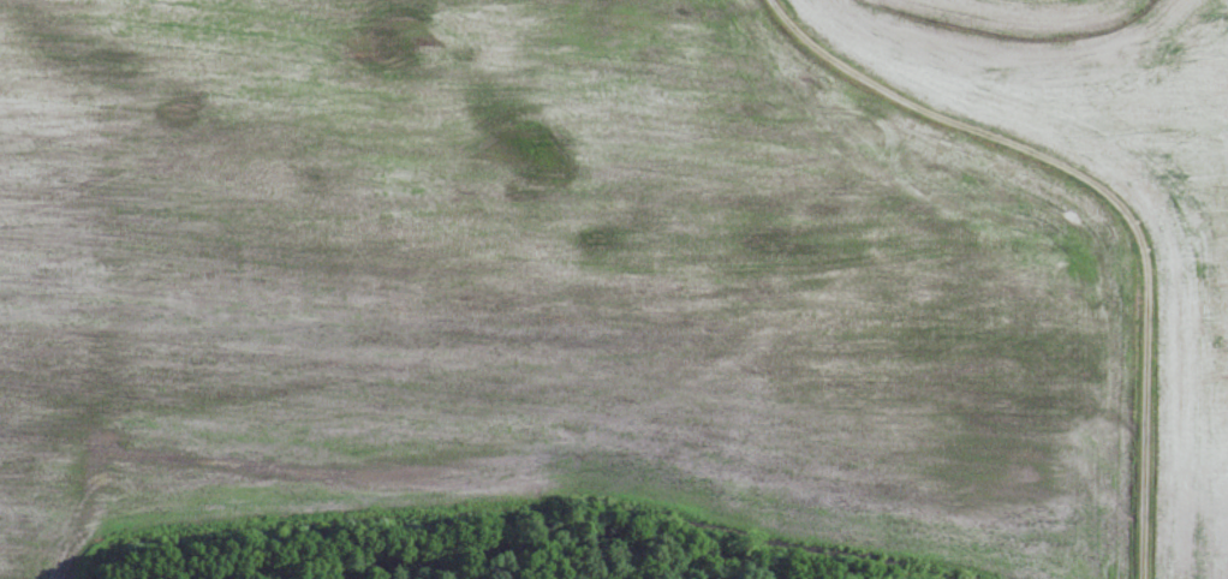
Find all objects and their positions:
road: (1109, 193)

